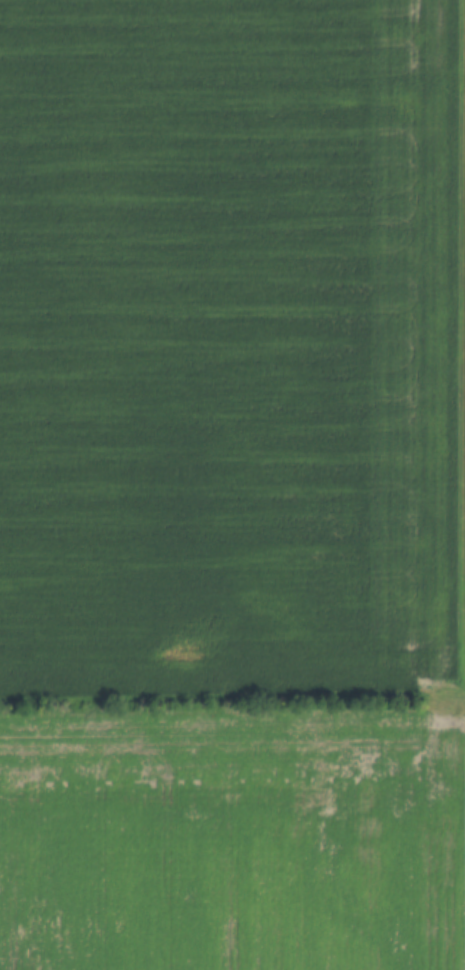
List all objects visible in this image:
road: (232, 697)

